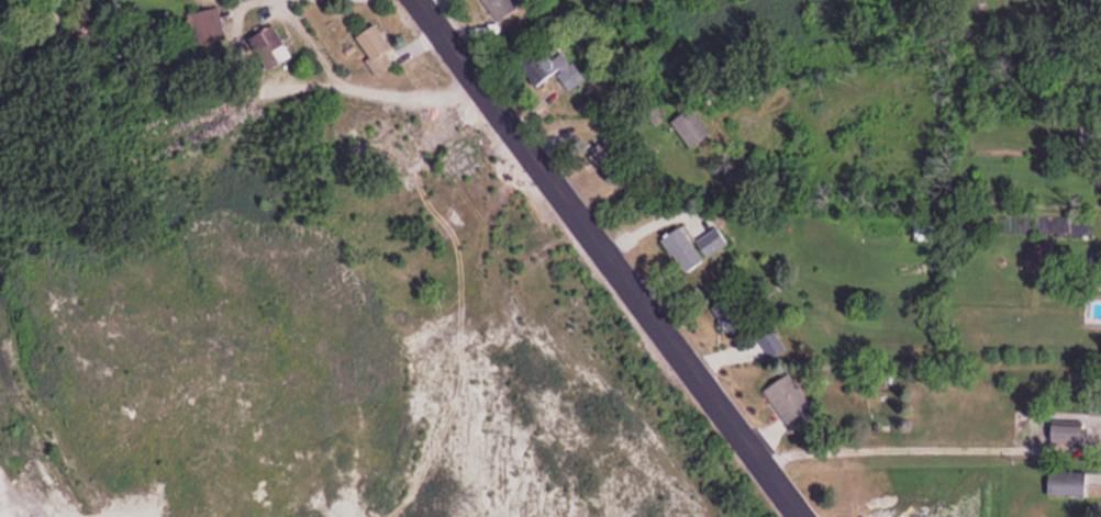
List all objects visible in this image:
building: (499, 9)
building: (208, 27)
building: (273, 49)
building: (377, 49)
building: (559, 74)
road: (321, 81)
building: (692, 128)
building: (610, 146)
building: (713, 243)
building: (683, 250)
road: (616, 258)
building: (732, 316)
building: (772, 344)
building: (790, 402)
building: (1069, 431)
road: (934, 448)
building: (1068, 483)

